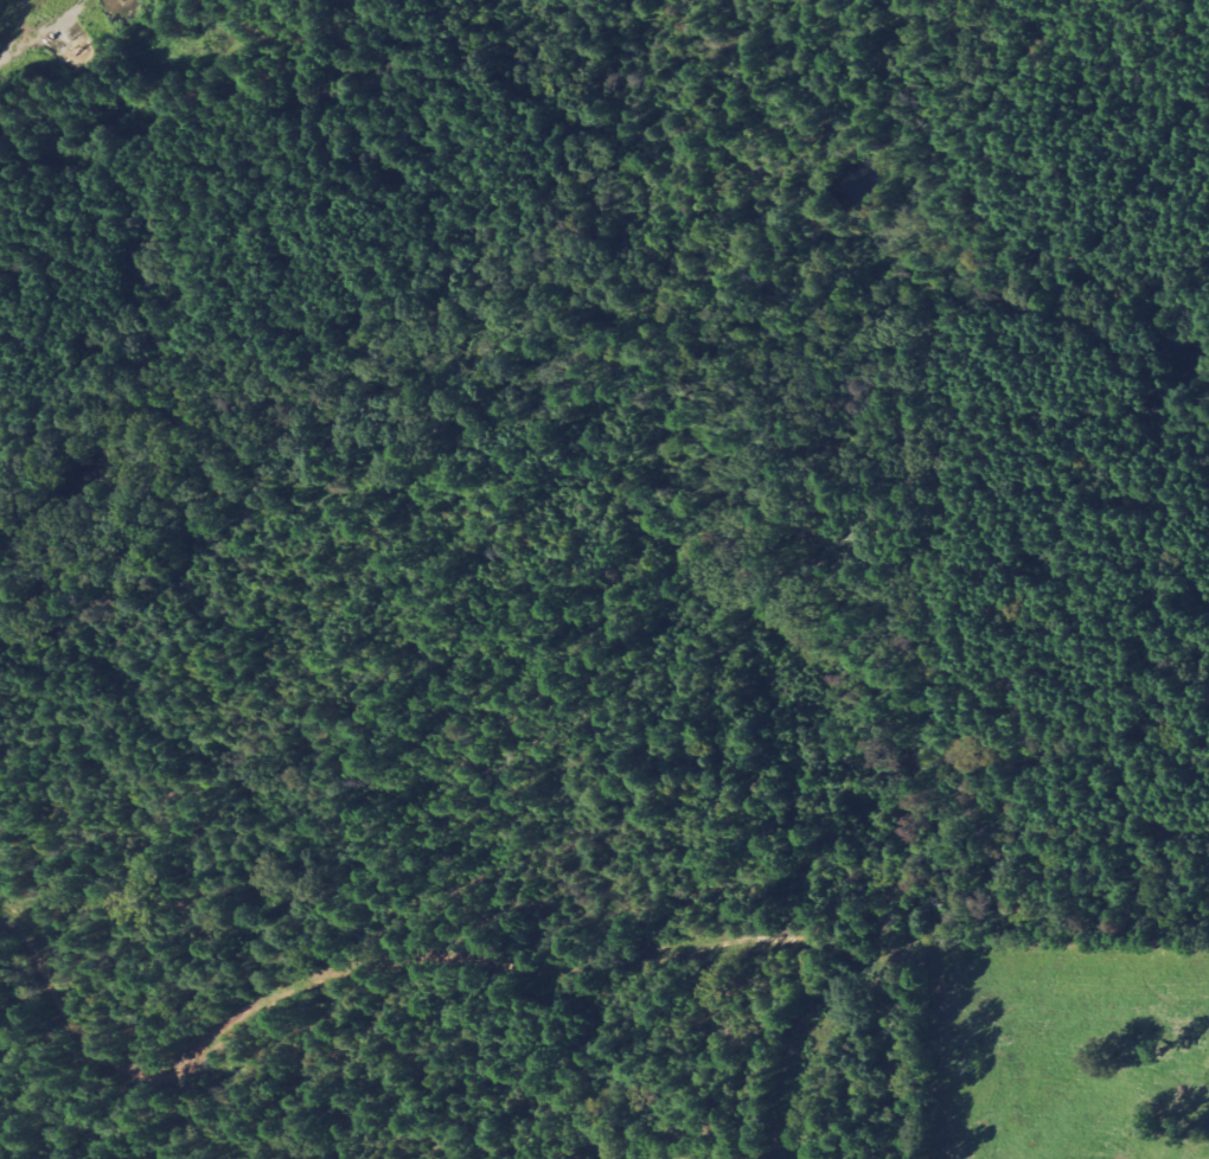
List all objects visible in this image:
road: (369, 967)

